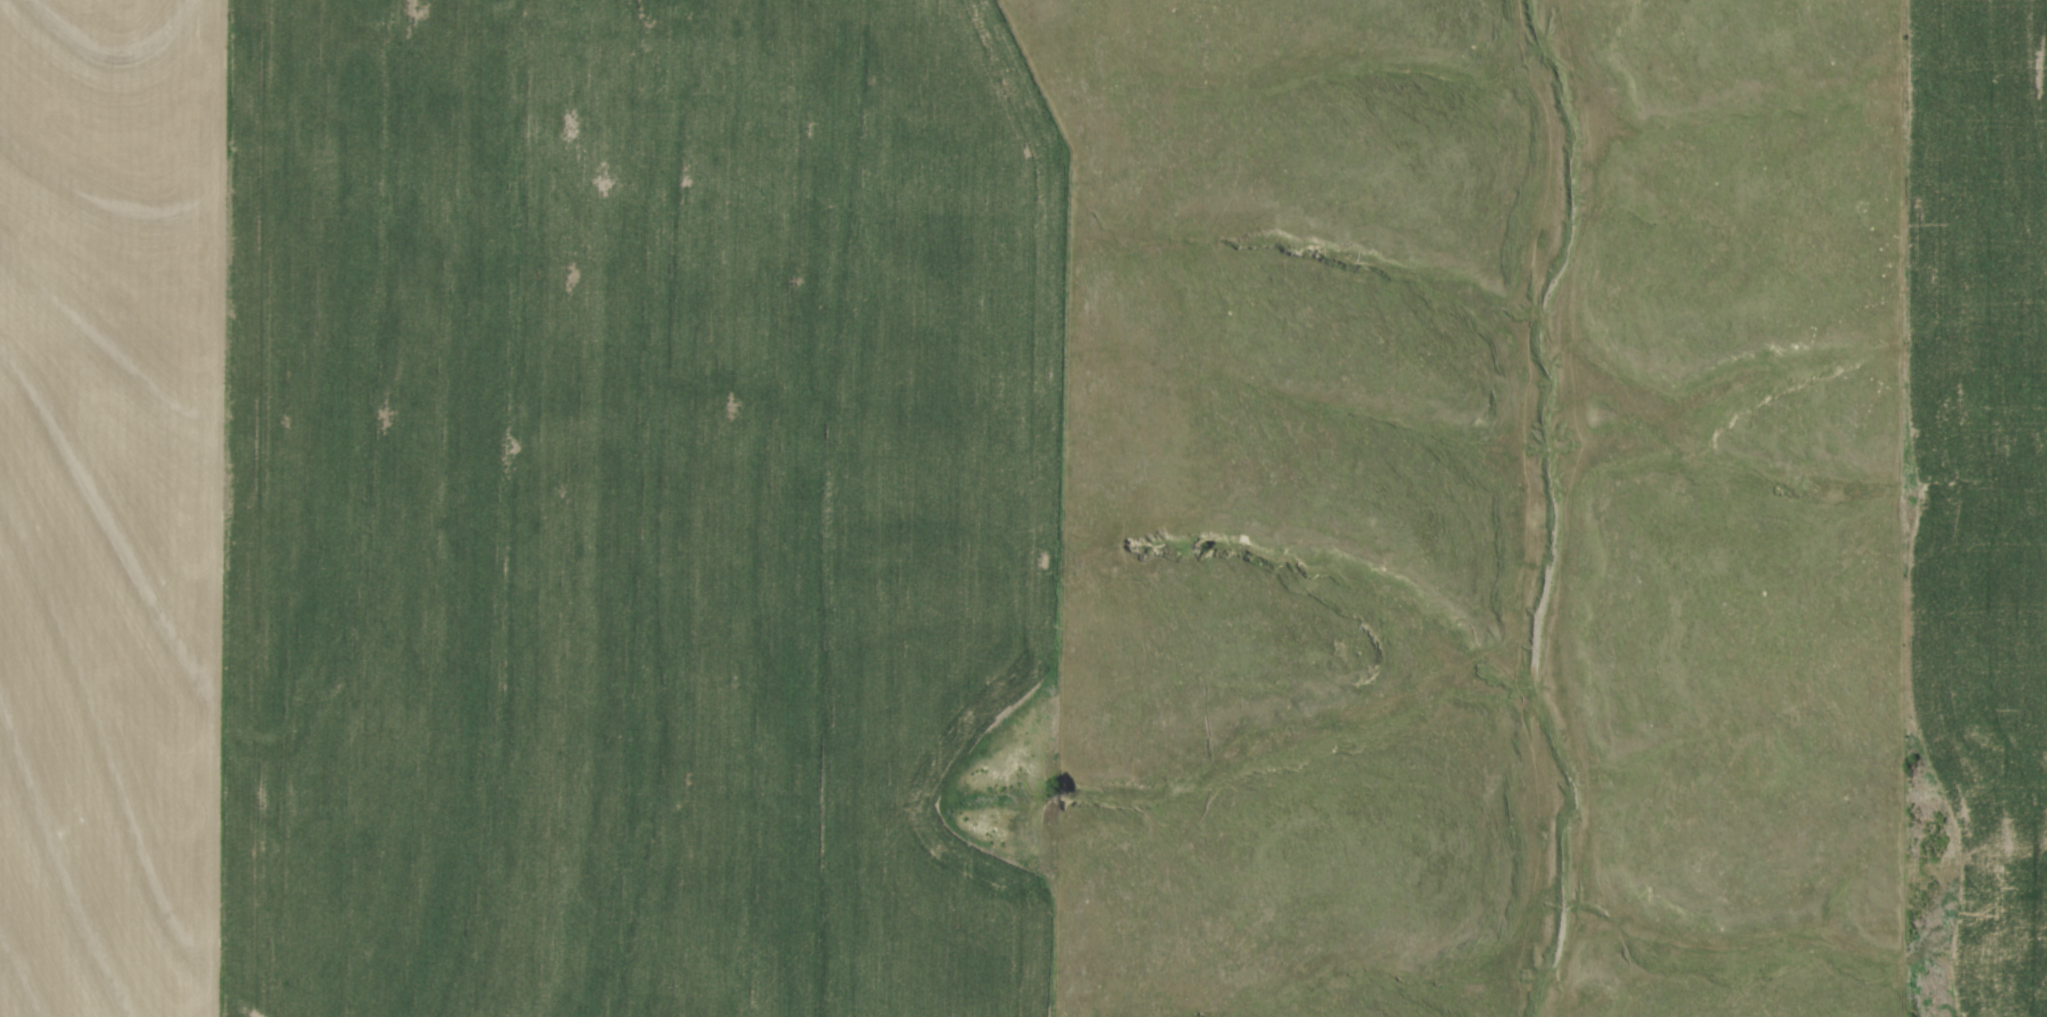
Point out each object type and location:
crop: (1985, 473)

